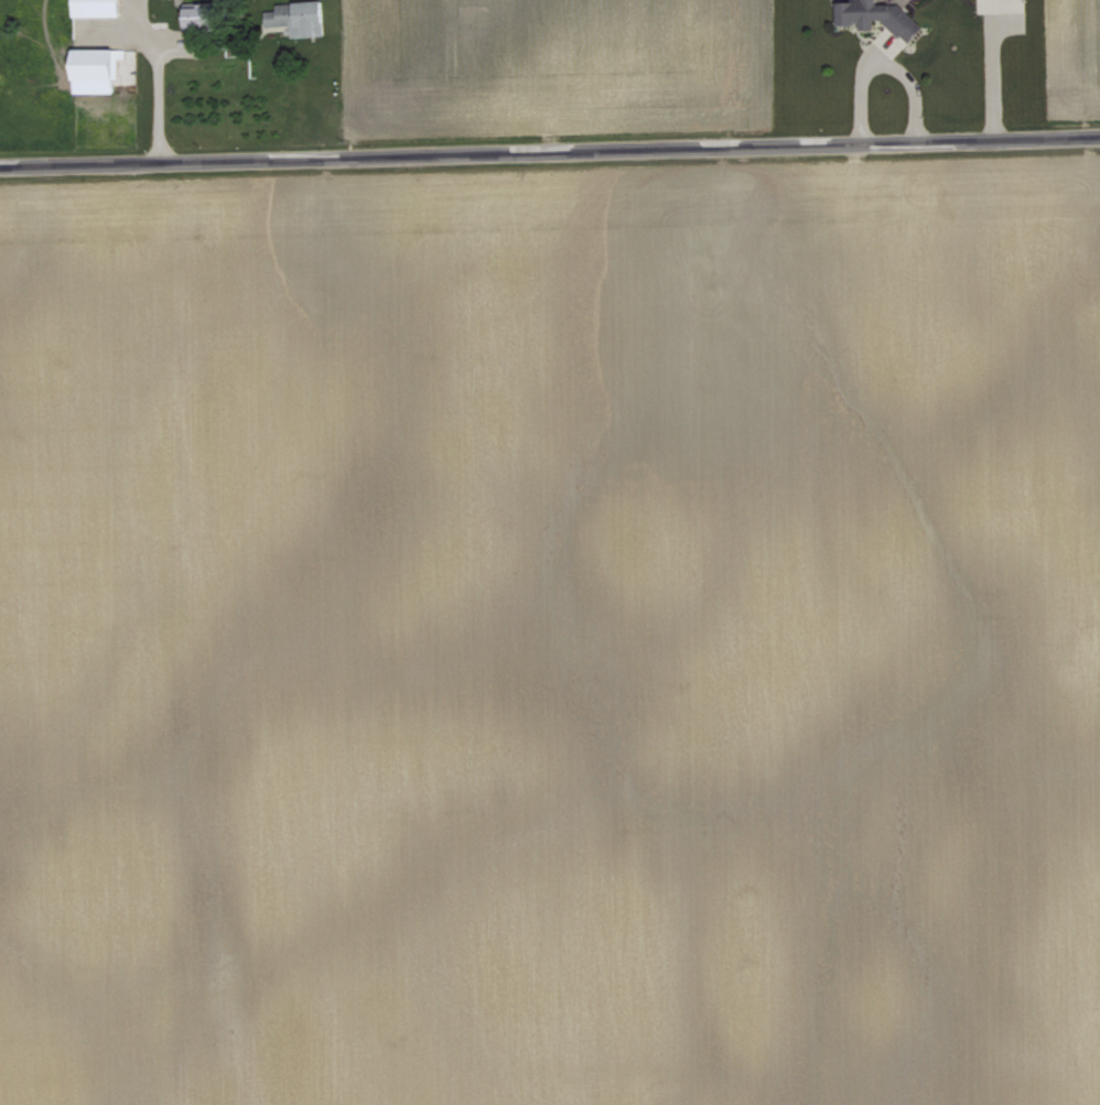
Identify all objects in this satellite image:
building: (96, 7)
building: (298, 15)
building: (880, 15)
road: (881, 59)
road: (155, 84)
road: (550, 152)

